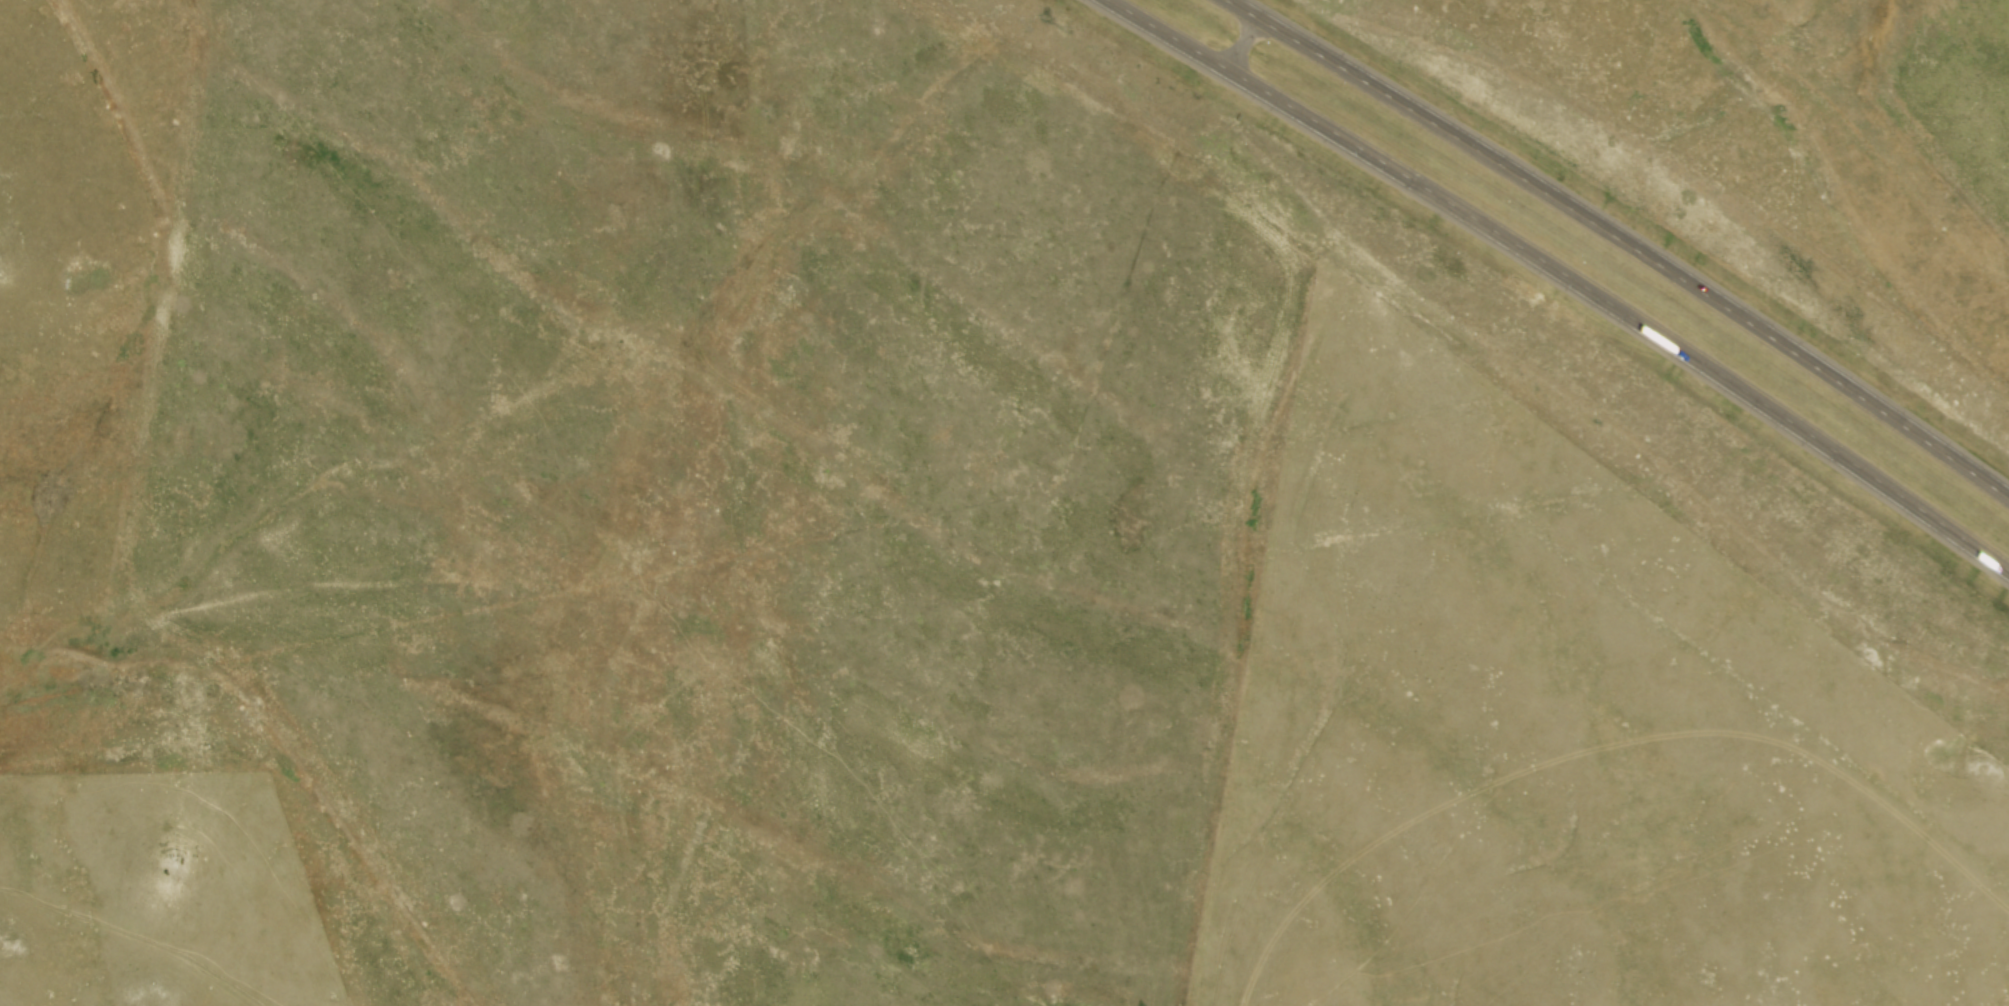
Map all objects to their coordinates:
road: (1623, 239)
road: (1562, 275)

